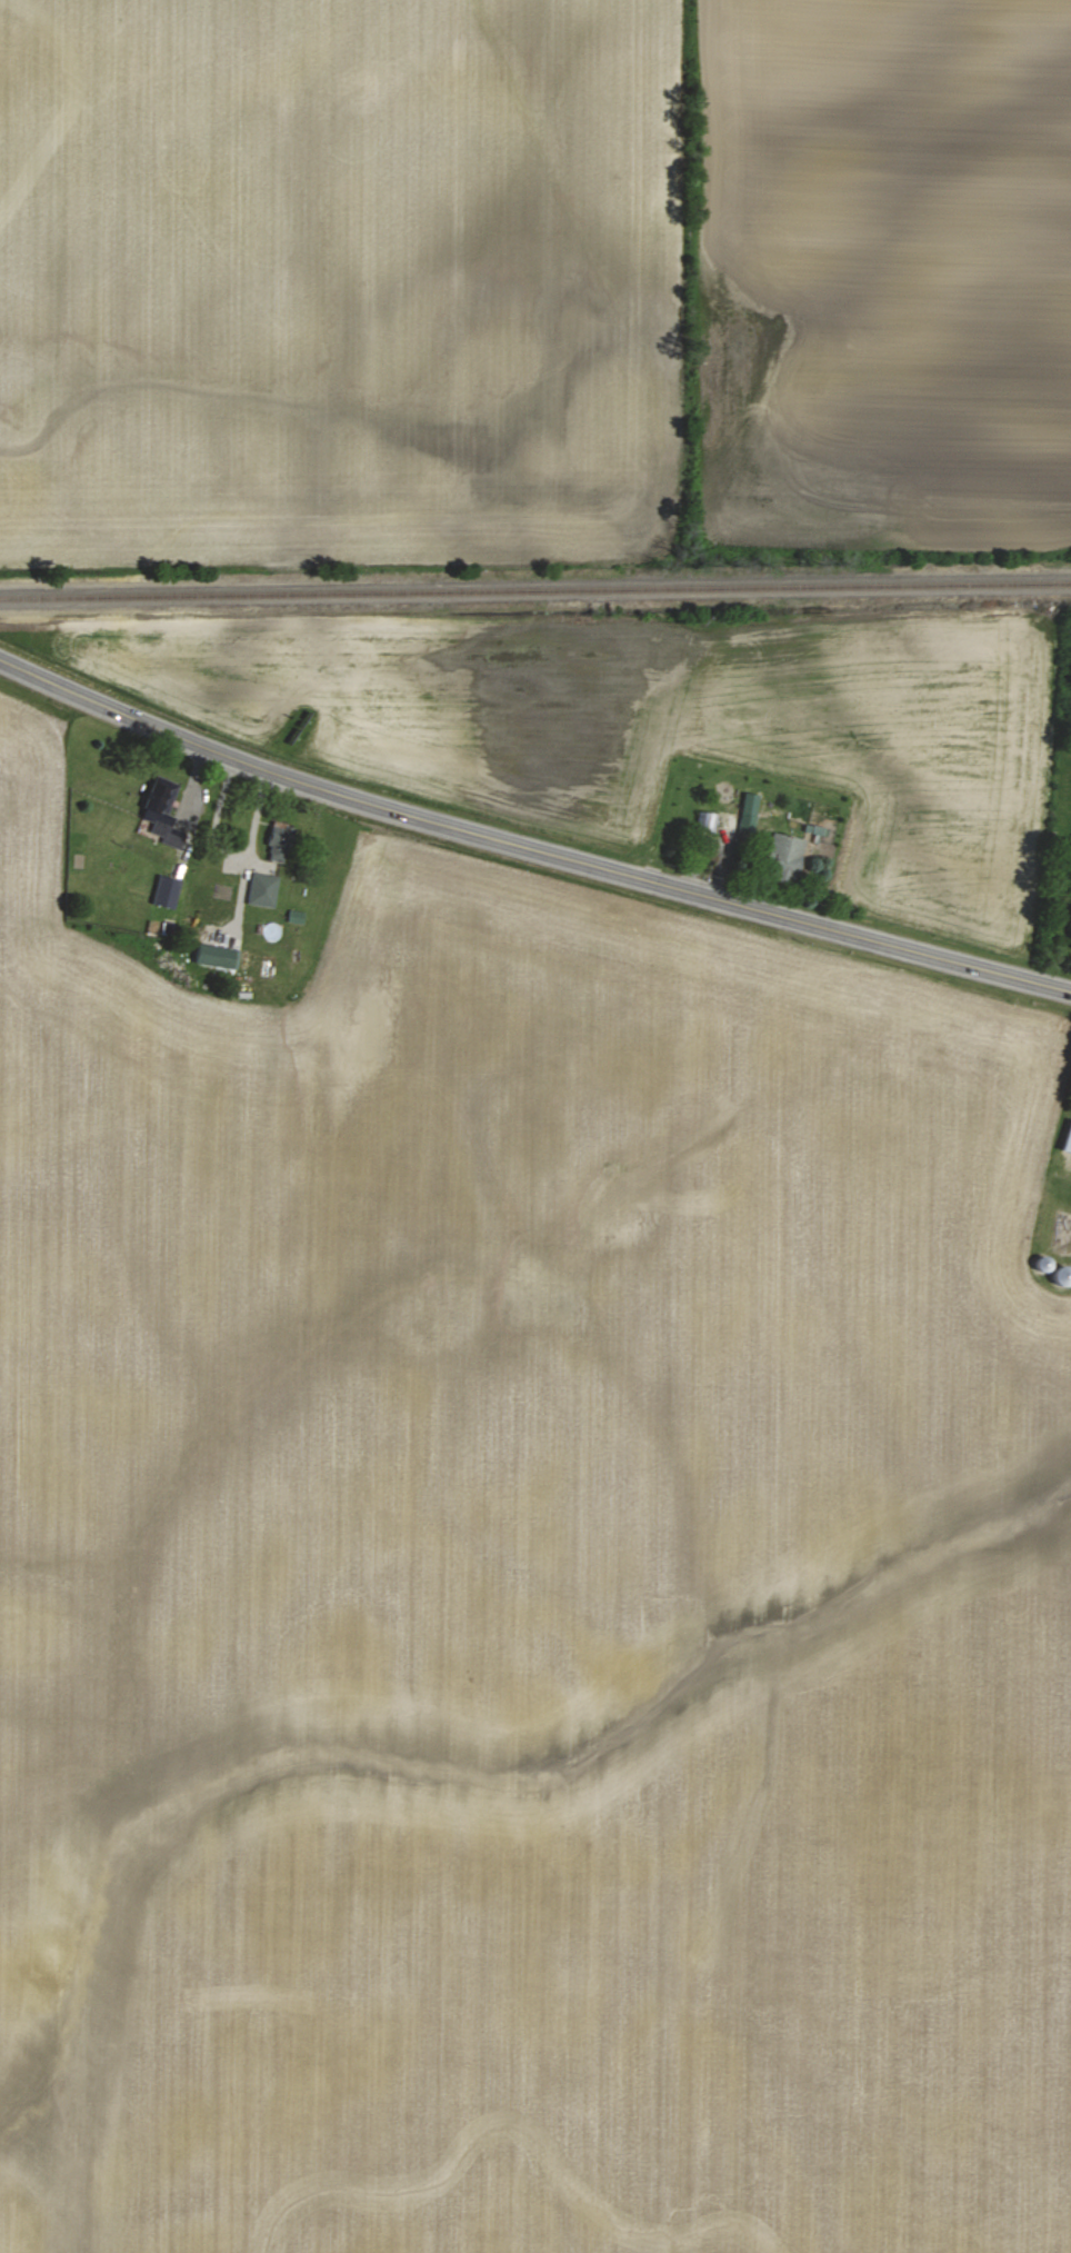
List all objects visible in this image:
railway: (534, 590)
building: (745, 813)
building: (160, 815)
building: (704, 821)
building: (278, 837)
road: (528, 848)
building: (783, 855)
building: (261, 889)
building: (164, 891)
building: (212, 956)
building: (1067, 1140)

